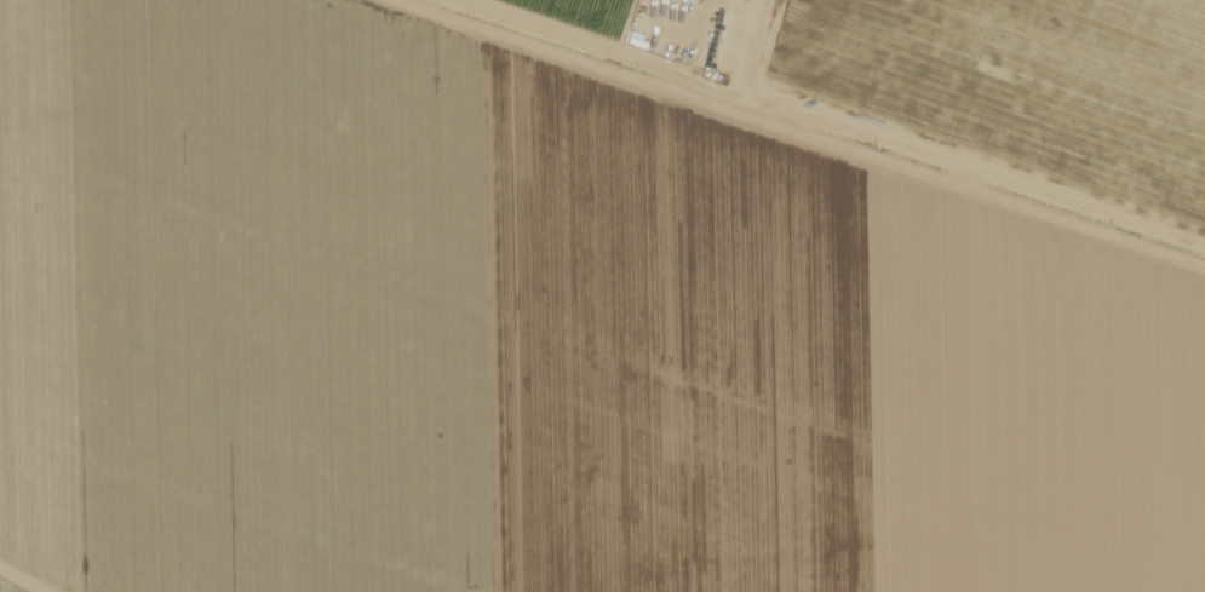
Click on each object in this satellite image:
crop: (656, 25)
crop: (1015, 87)
road: (813, 138)
crop: (672, 232)
crop: (494, 401)
crop: (193, 504)
crop: (11, 586)

